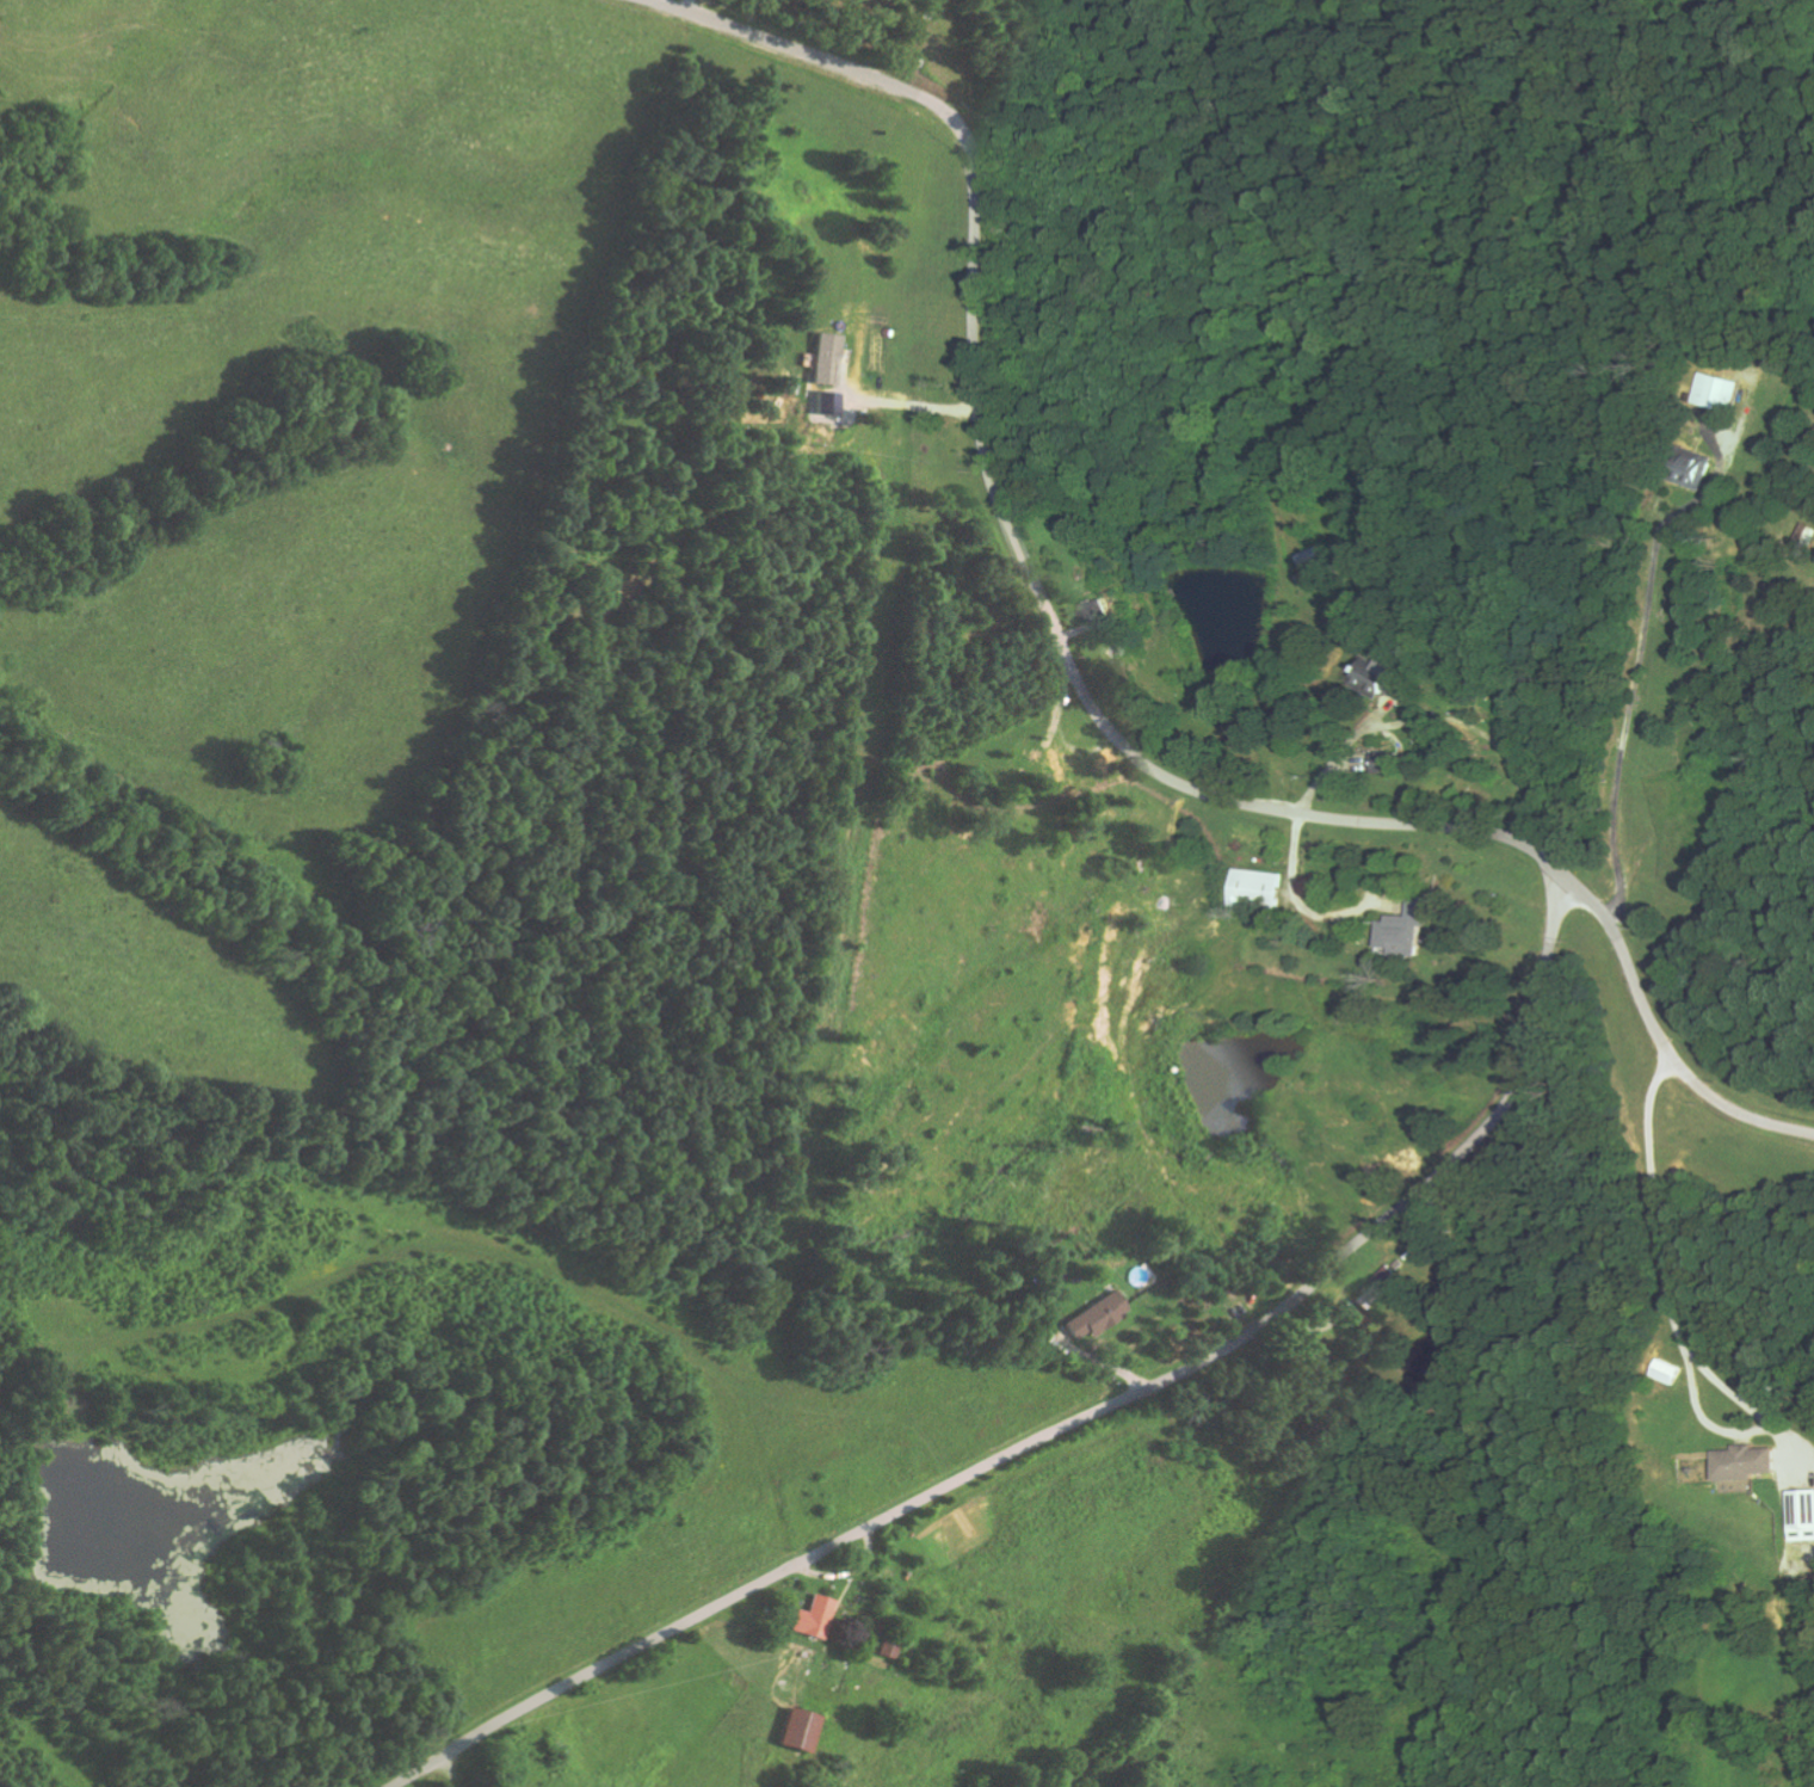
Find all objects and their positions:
building: (828, 357)
building: (1728, 390)
building: (1709, 470)
building: (1807, 536)
building: (1321, 565)
building: (1100, 612)
building: (1388, 677)
road: (1082, 694)
building: (1390, 762)
building: (1263, 889)
building: (1409, 930)
building: (1378, 1288)
building: (1099, 1315)
road: (1076, 1419)
building: (1750, 1462)
building: (1806, 1515)
building: (815, 1616)
building: (801, 1730)

